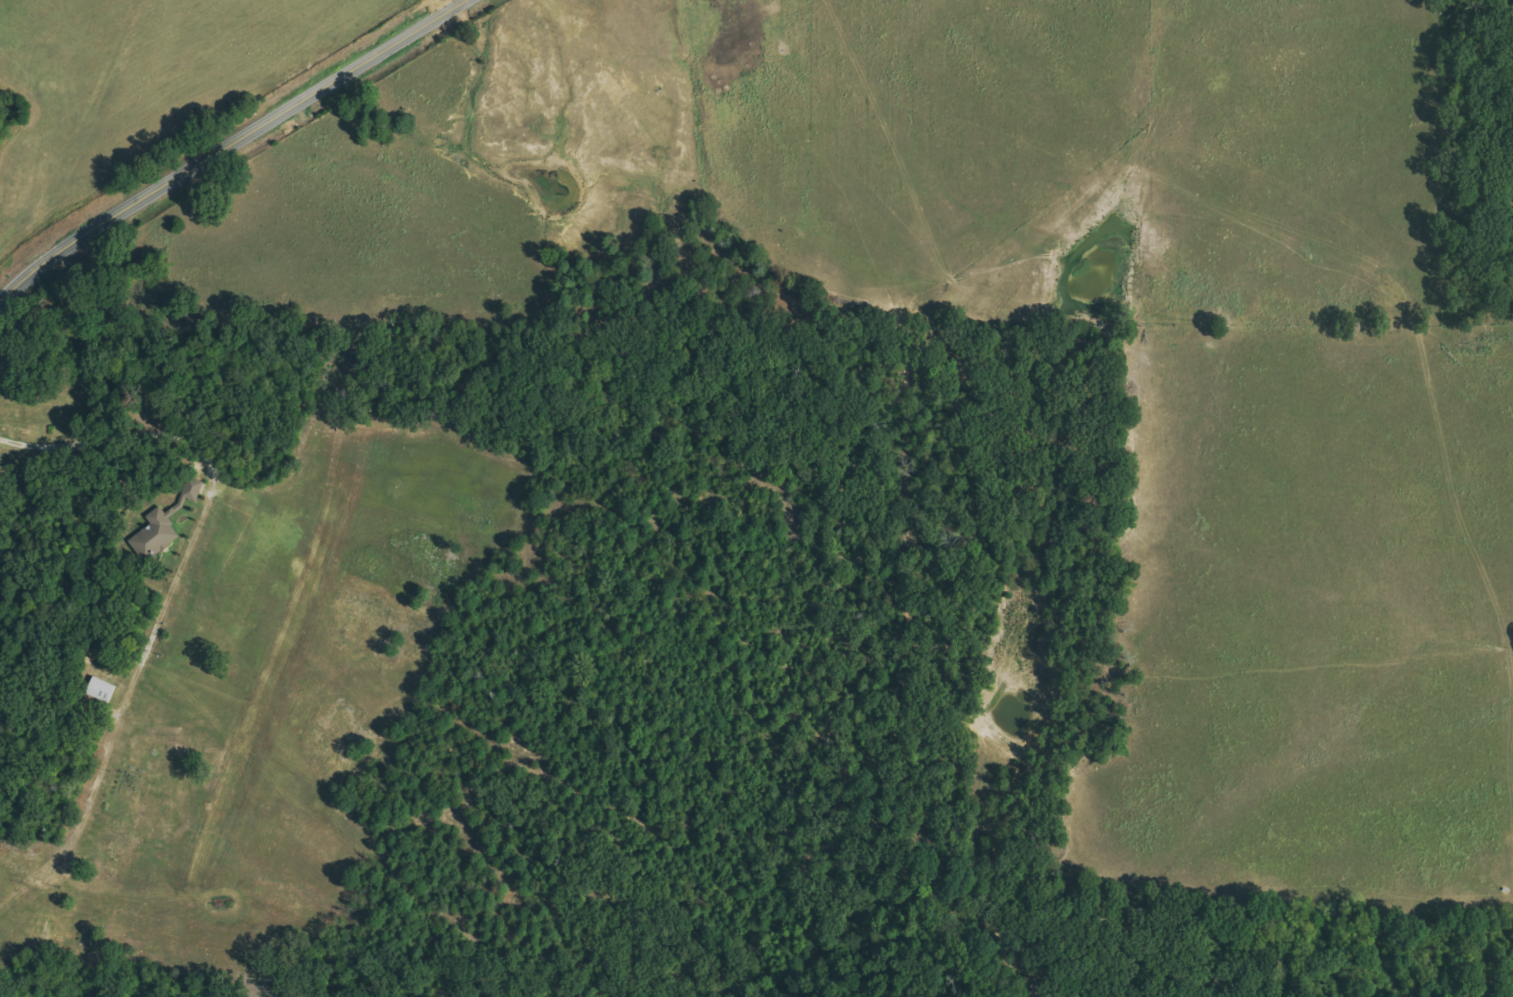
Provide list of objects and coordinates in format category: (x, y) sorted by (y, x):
road: (227, 146)
road: (209, 478)
building: (192, 489)
building: (161, 527)

